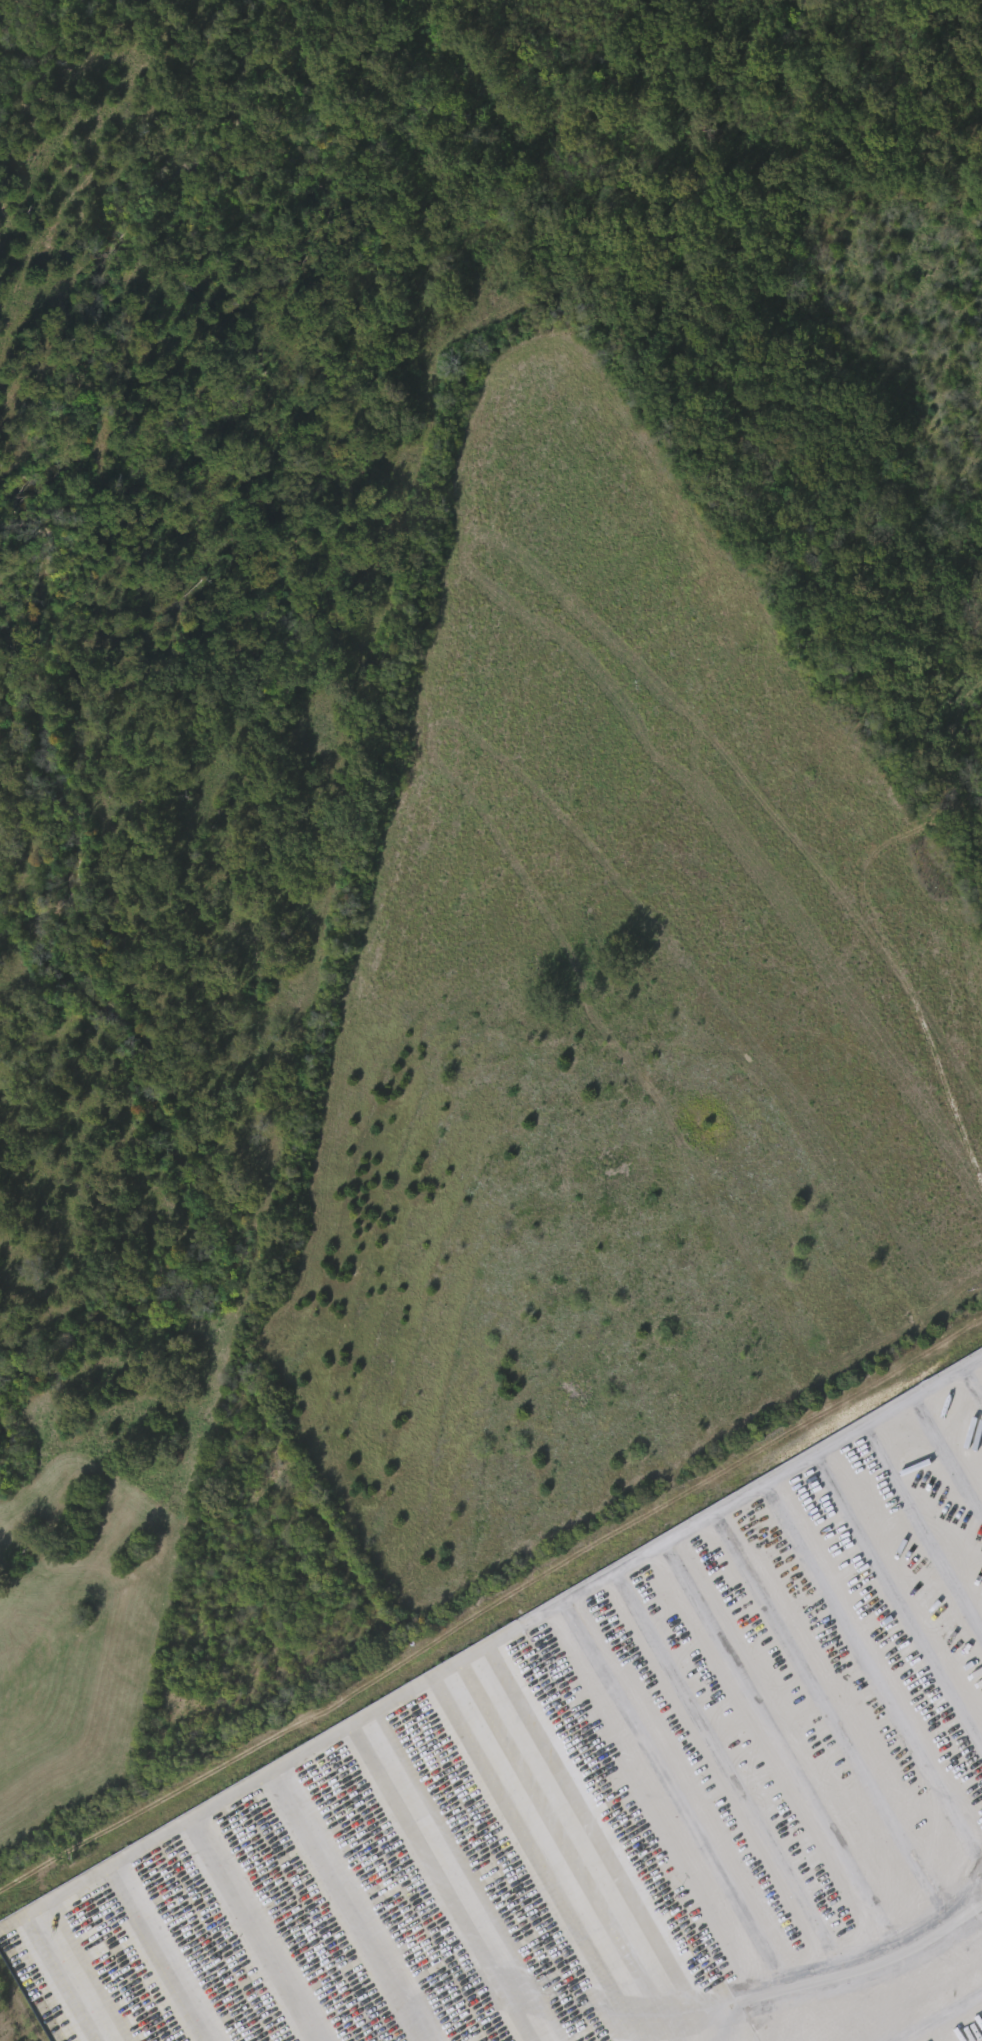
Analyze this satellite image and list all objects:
road: (492, 1606)
road: (448, 1667)
road: (575, 1837)
road: (834, 1967)

